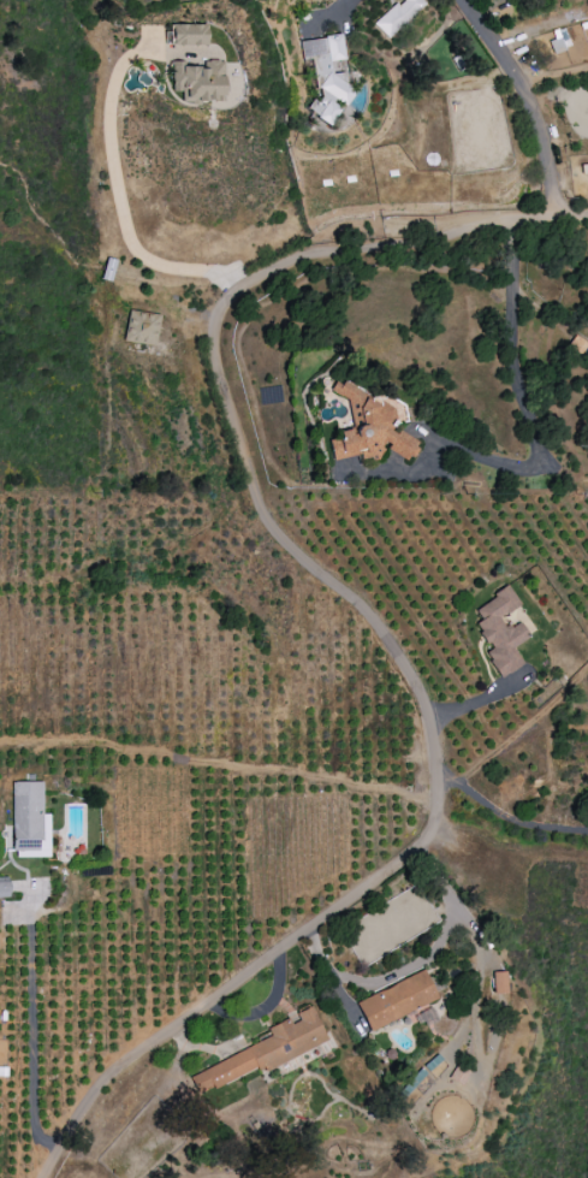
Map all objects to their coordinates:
road: (331, 13)
building: (397, 16)
building: (556, 23)
building: (189, 34)
building: (326, 76)
building: (198, 81)
road: (530, 101)
road: (115, 178)
road: (511, 230)
building: (141, 327)
building: (577, 345)
road: (528, 422)
building: (369, 427)
road: (378, 622)
building: (499, 632)
road: (519, 736)
road: (224, 757)
road: (510, 819)
building: (4, 889)
road: (412, 966)
building: (498, 983)
building: (396, 1000)
road: (31, 1025)
building: (265, 1050)

